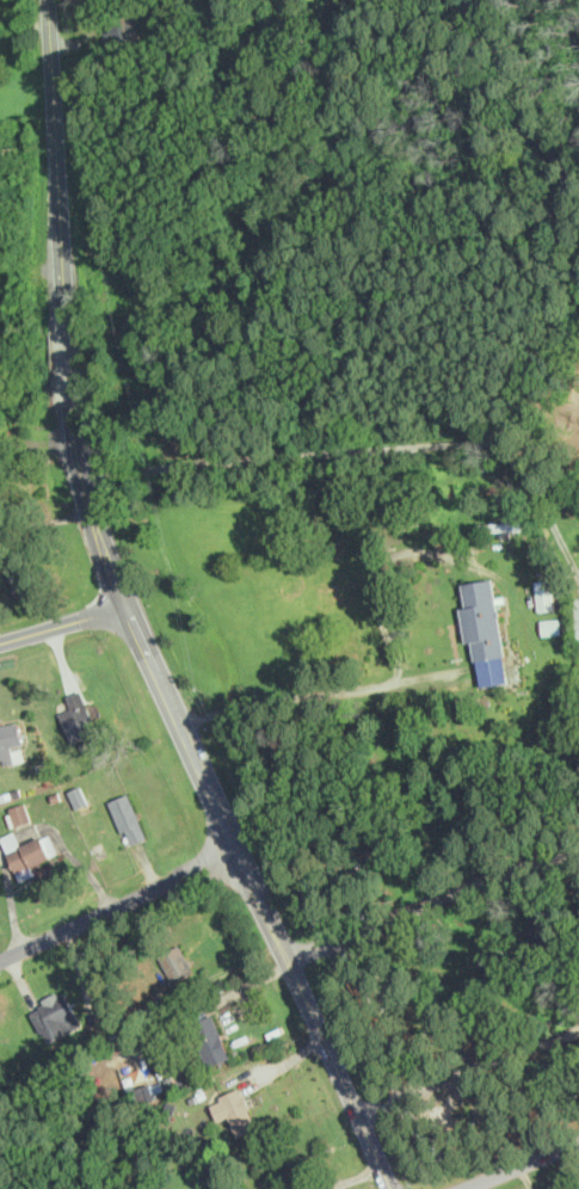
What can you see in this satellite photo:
road: (25, 25)
building: (124, 29)
road: (56, 155)
road: (67, 352)
road: (365, 448)
building: (498, 526)
building: (21, 577)
building: (544, 593)
road: (63, 623)
building: (550, 624)
building: (485, 629)
road: (324, 692)
building: (79, 716)
building: (11, 743)
building: (78, 795)
road: (215, 795)
building: (20, 813)
building: (128, 818)
building: (29, 852)
road: (432, 900)
road: (119, 904)
building: (534, 924)
building: (177, 963)
road: (239, 990)
building: (55, 1016)
building: (210, 1039)
road: (467, 1067)
building: (141, 1093)
building: (239, 1111)
road: (519, 1164)
building: (287, 1187)

